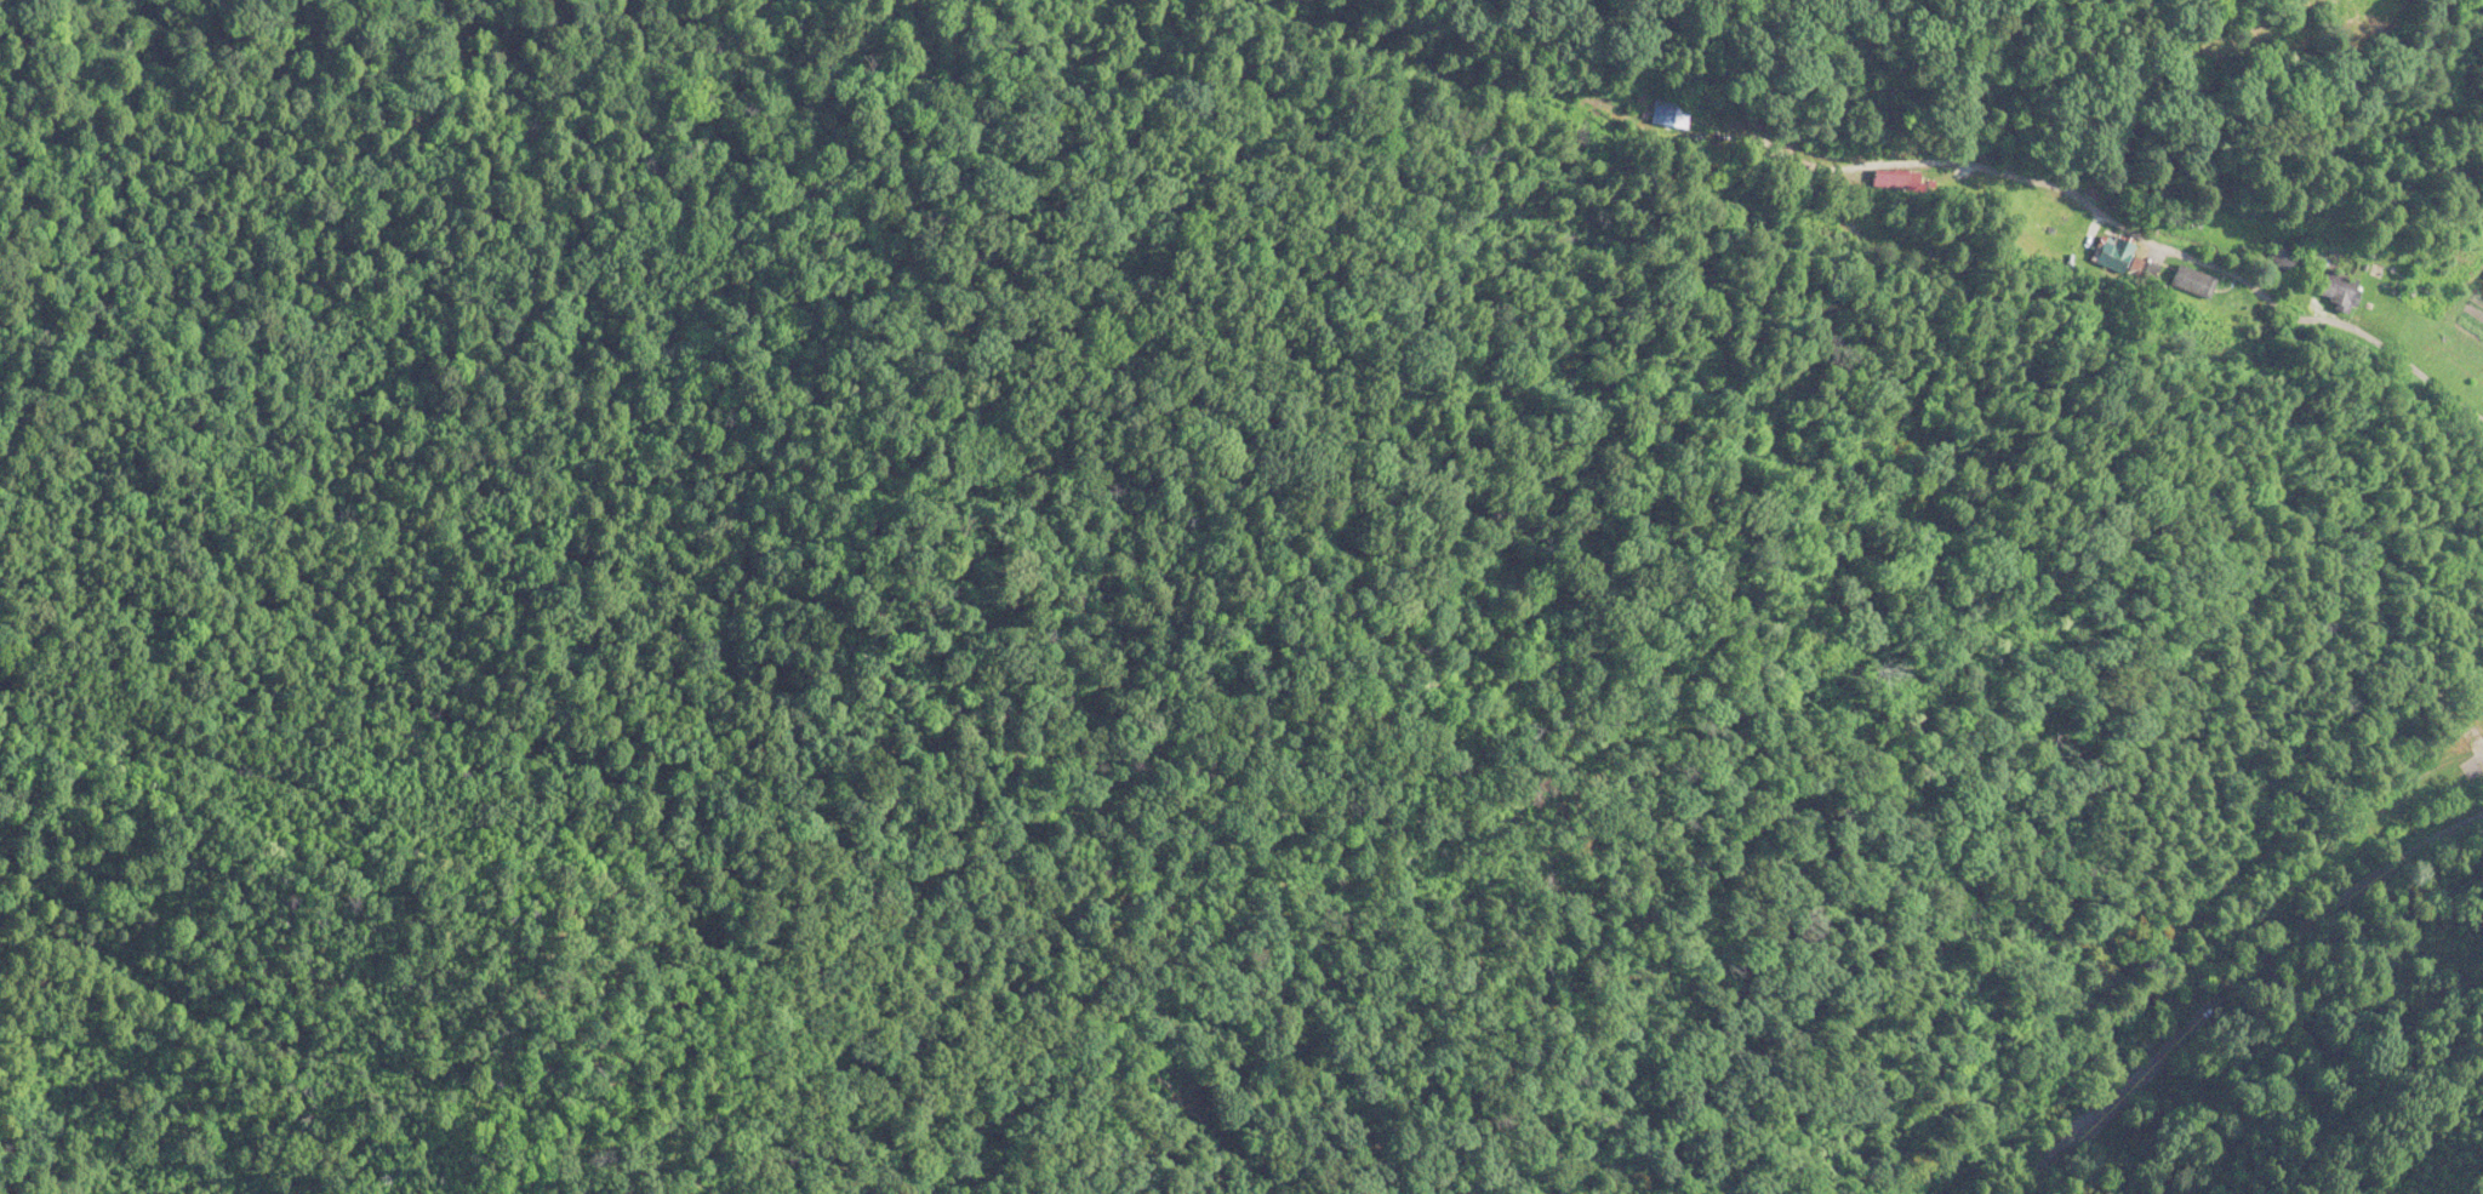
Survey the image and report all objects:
building: (1644, 116)
road: (2124, 218)
building: (2287, 257)
building: (2194, 281)
building: (2341, 291)
road: (2231, 986)

